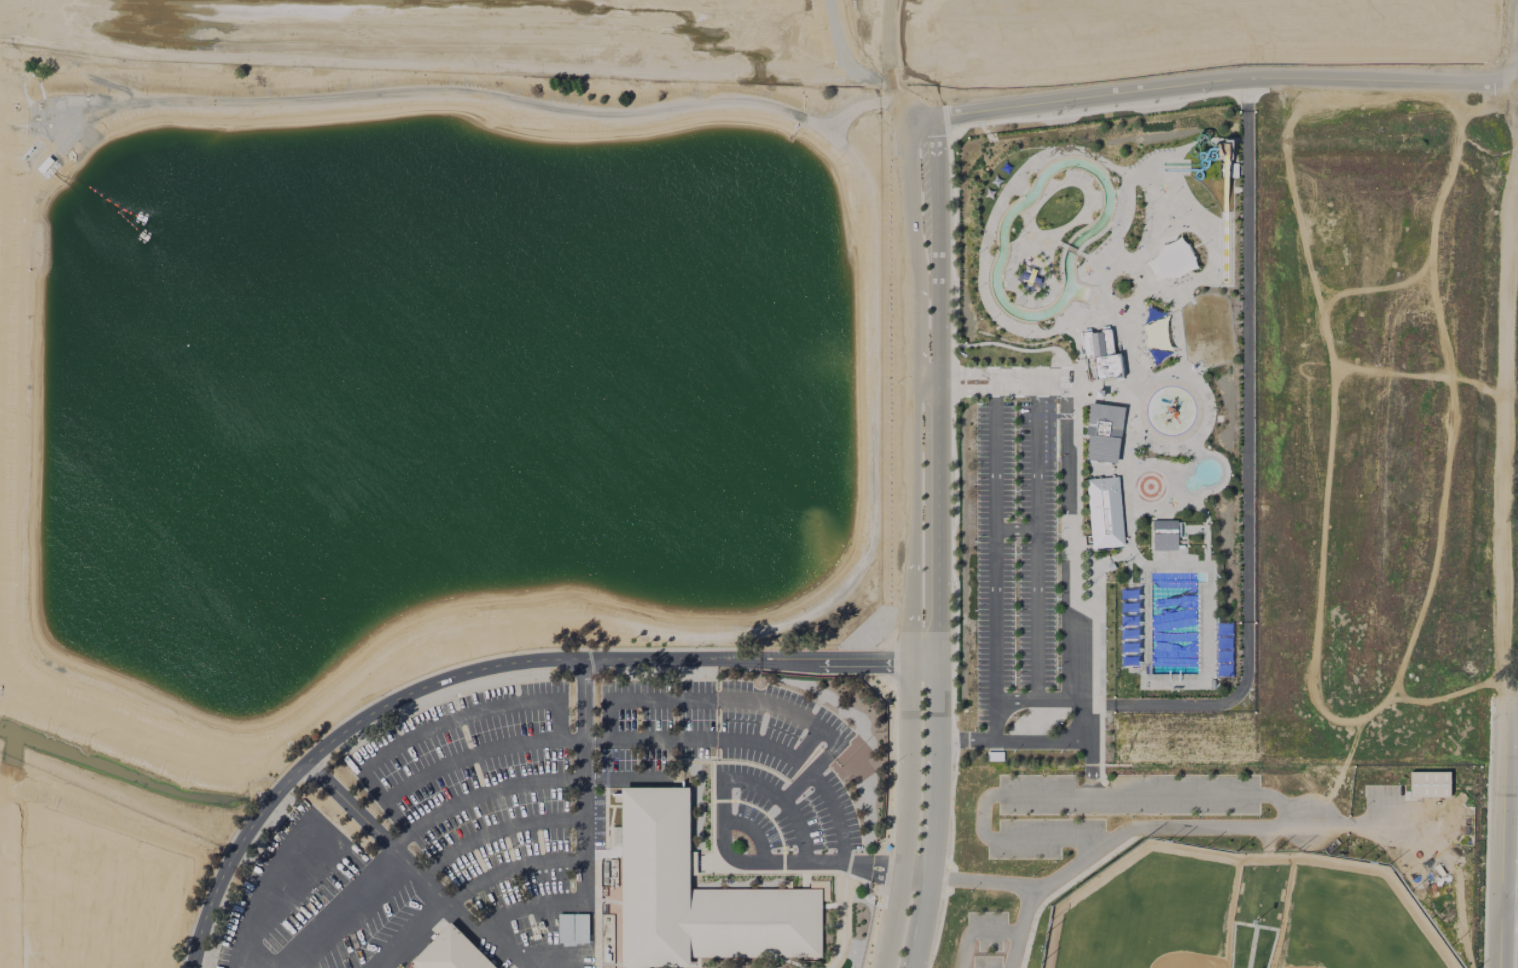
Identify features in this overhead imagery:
road: (763, 77)
park: (1207, 329)
building: (1103, 355)
road: (959, 372)
road: (1029, 381)
road: (958, 389)
water park: (1101, 429)
building: (1103, 432)
road: (1246, 470)
road: (1516, 498)
building: (1104, 511)
road: (1015, 528)
road: (915, 529)
building: (1164, 534)
road: (1036, 540)
road: (937, 542)
road: (995, 560)
road: (1064, 562)
road: (1517, 666)
road: (489, 667)
road: (729, 699)
road: (1035, 700)
road: (452, 719)
road: (710, 738)
road: (1005, 740)
road: (458, 760)
road: (625, 779)
building: (1428, 783)
road: (1167, 794)
road: (478, 795)
road: (829, 796)
road: (783, 800)
road: (1383, 824)
road: (1140, 826)
road: (981, 829)
road: (493, 830)
road: (751, 832)
road: (788, 862)
road: (509, 867)
road: (983, 882)
road: (267, 888)
building: (698, 894)
road: (1513, 898)
road: (522, 905)
road: (339, 911)
park: (1148, 911)
park: (1351, 919)
building: (572, 928)
road: (976, 931)
road: (411, 935)
building: (450, 952)

